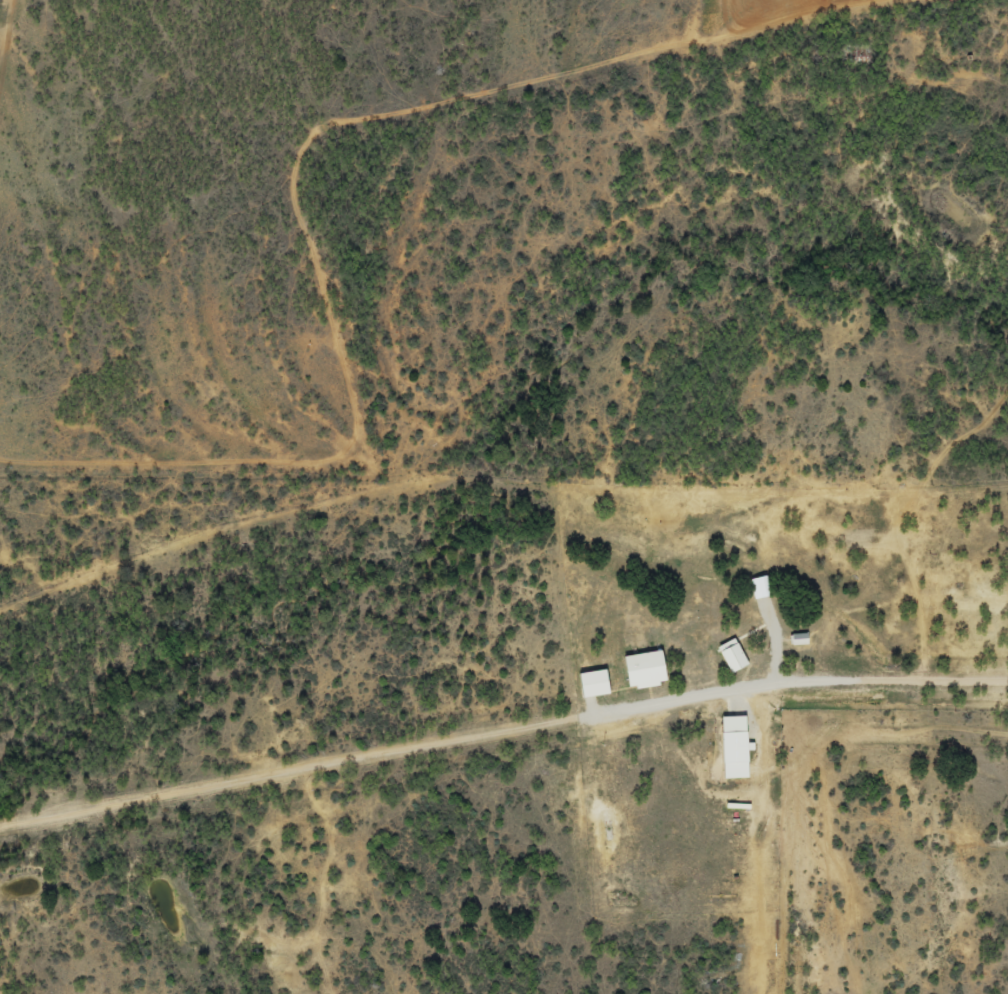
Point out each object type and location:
road: (961, 77)
building: (753, 586)
building: (792, 638)
building: (725, 655)
road: (500, 745)
building: (727, 754)

